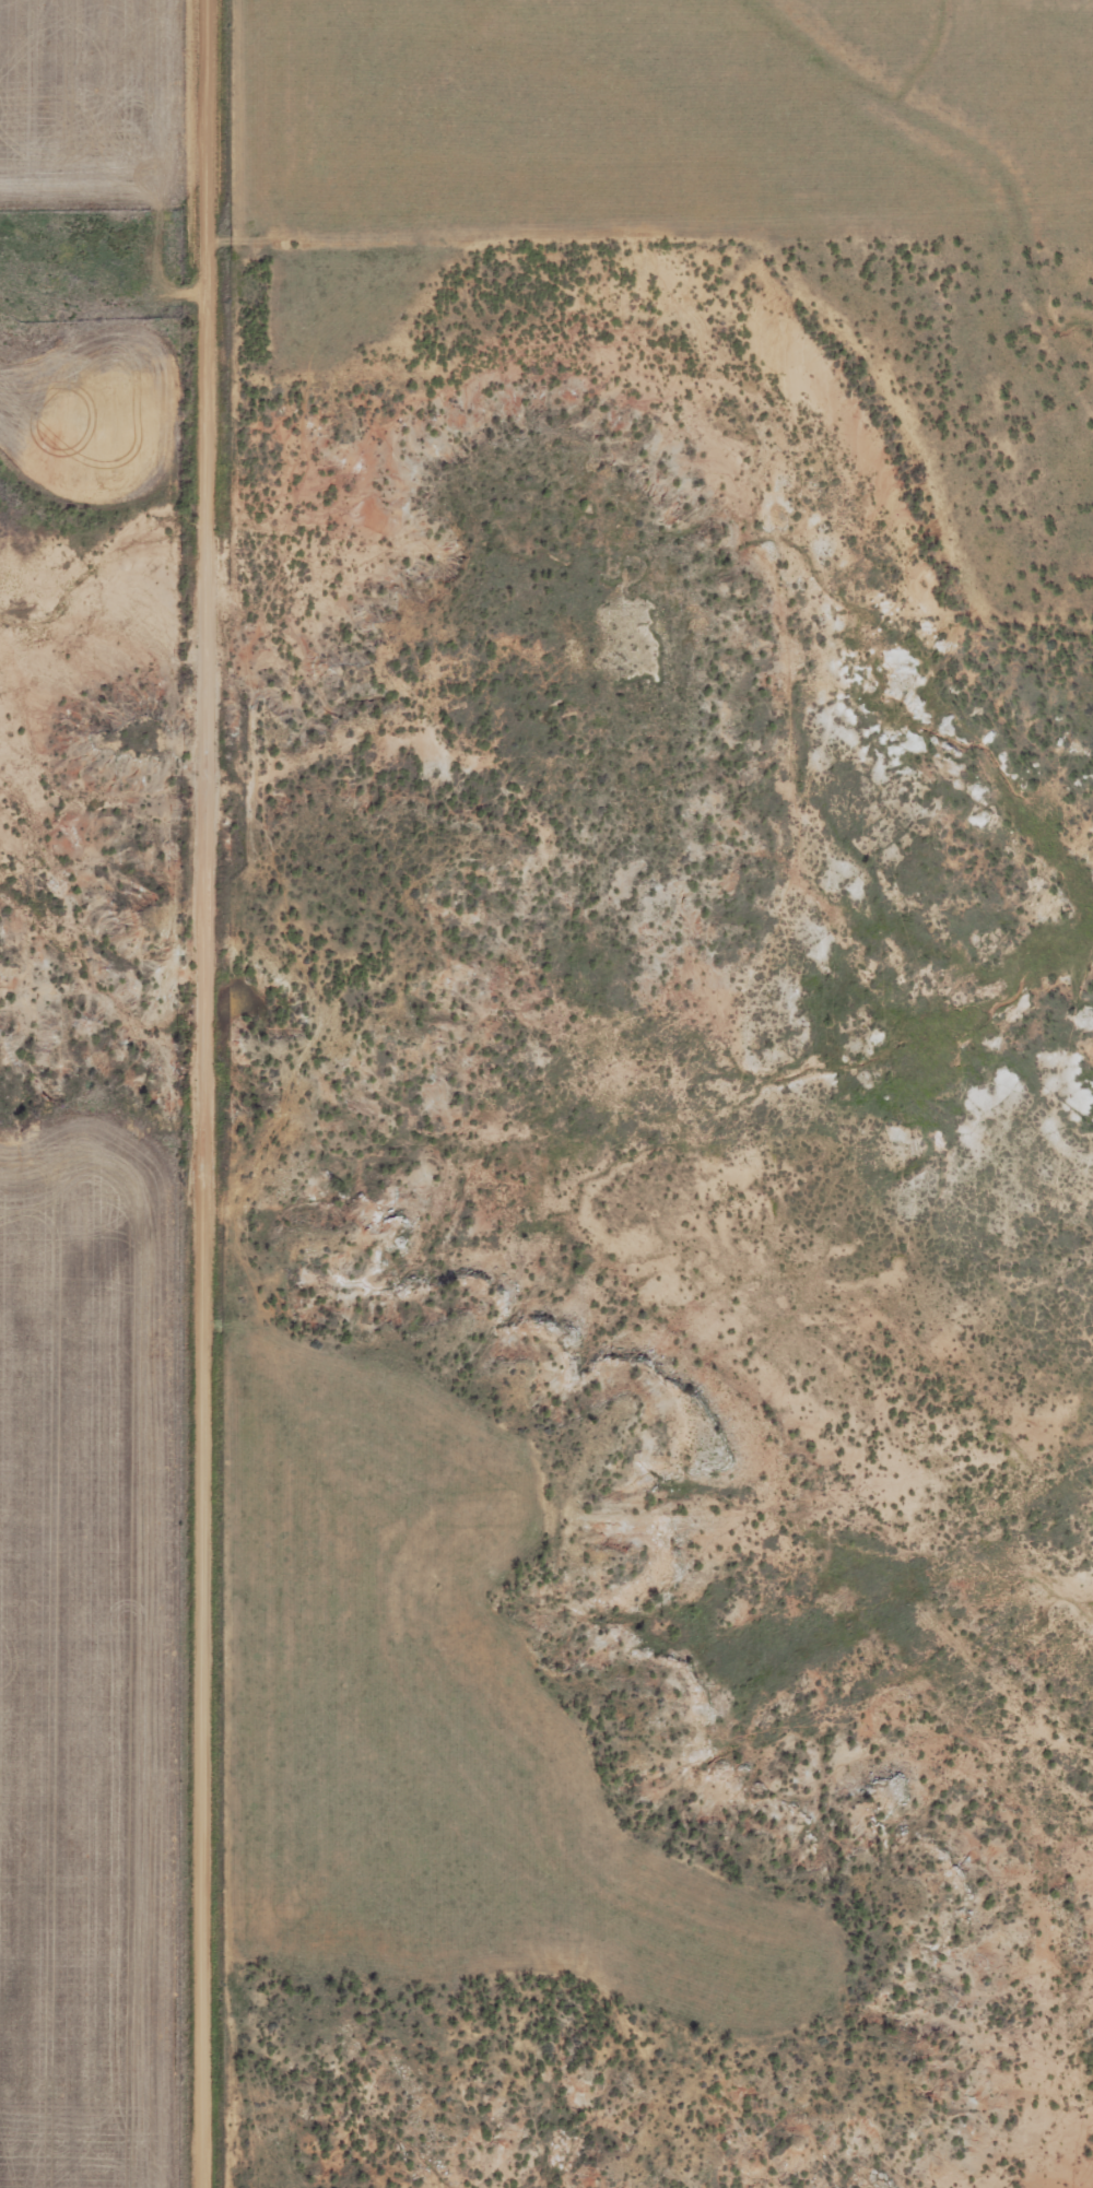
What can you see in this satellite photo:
road: (209, 1093)

